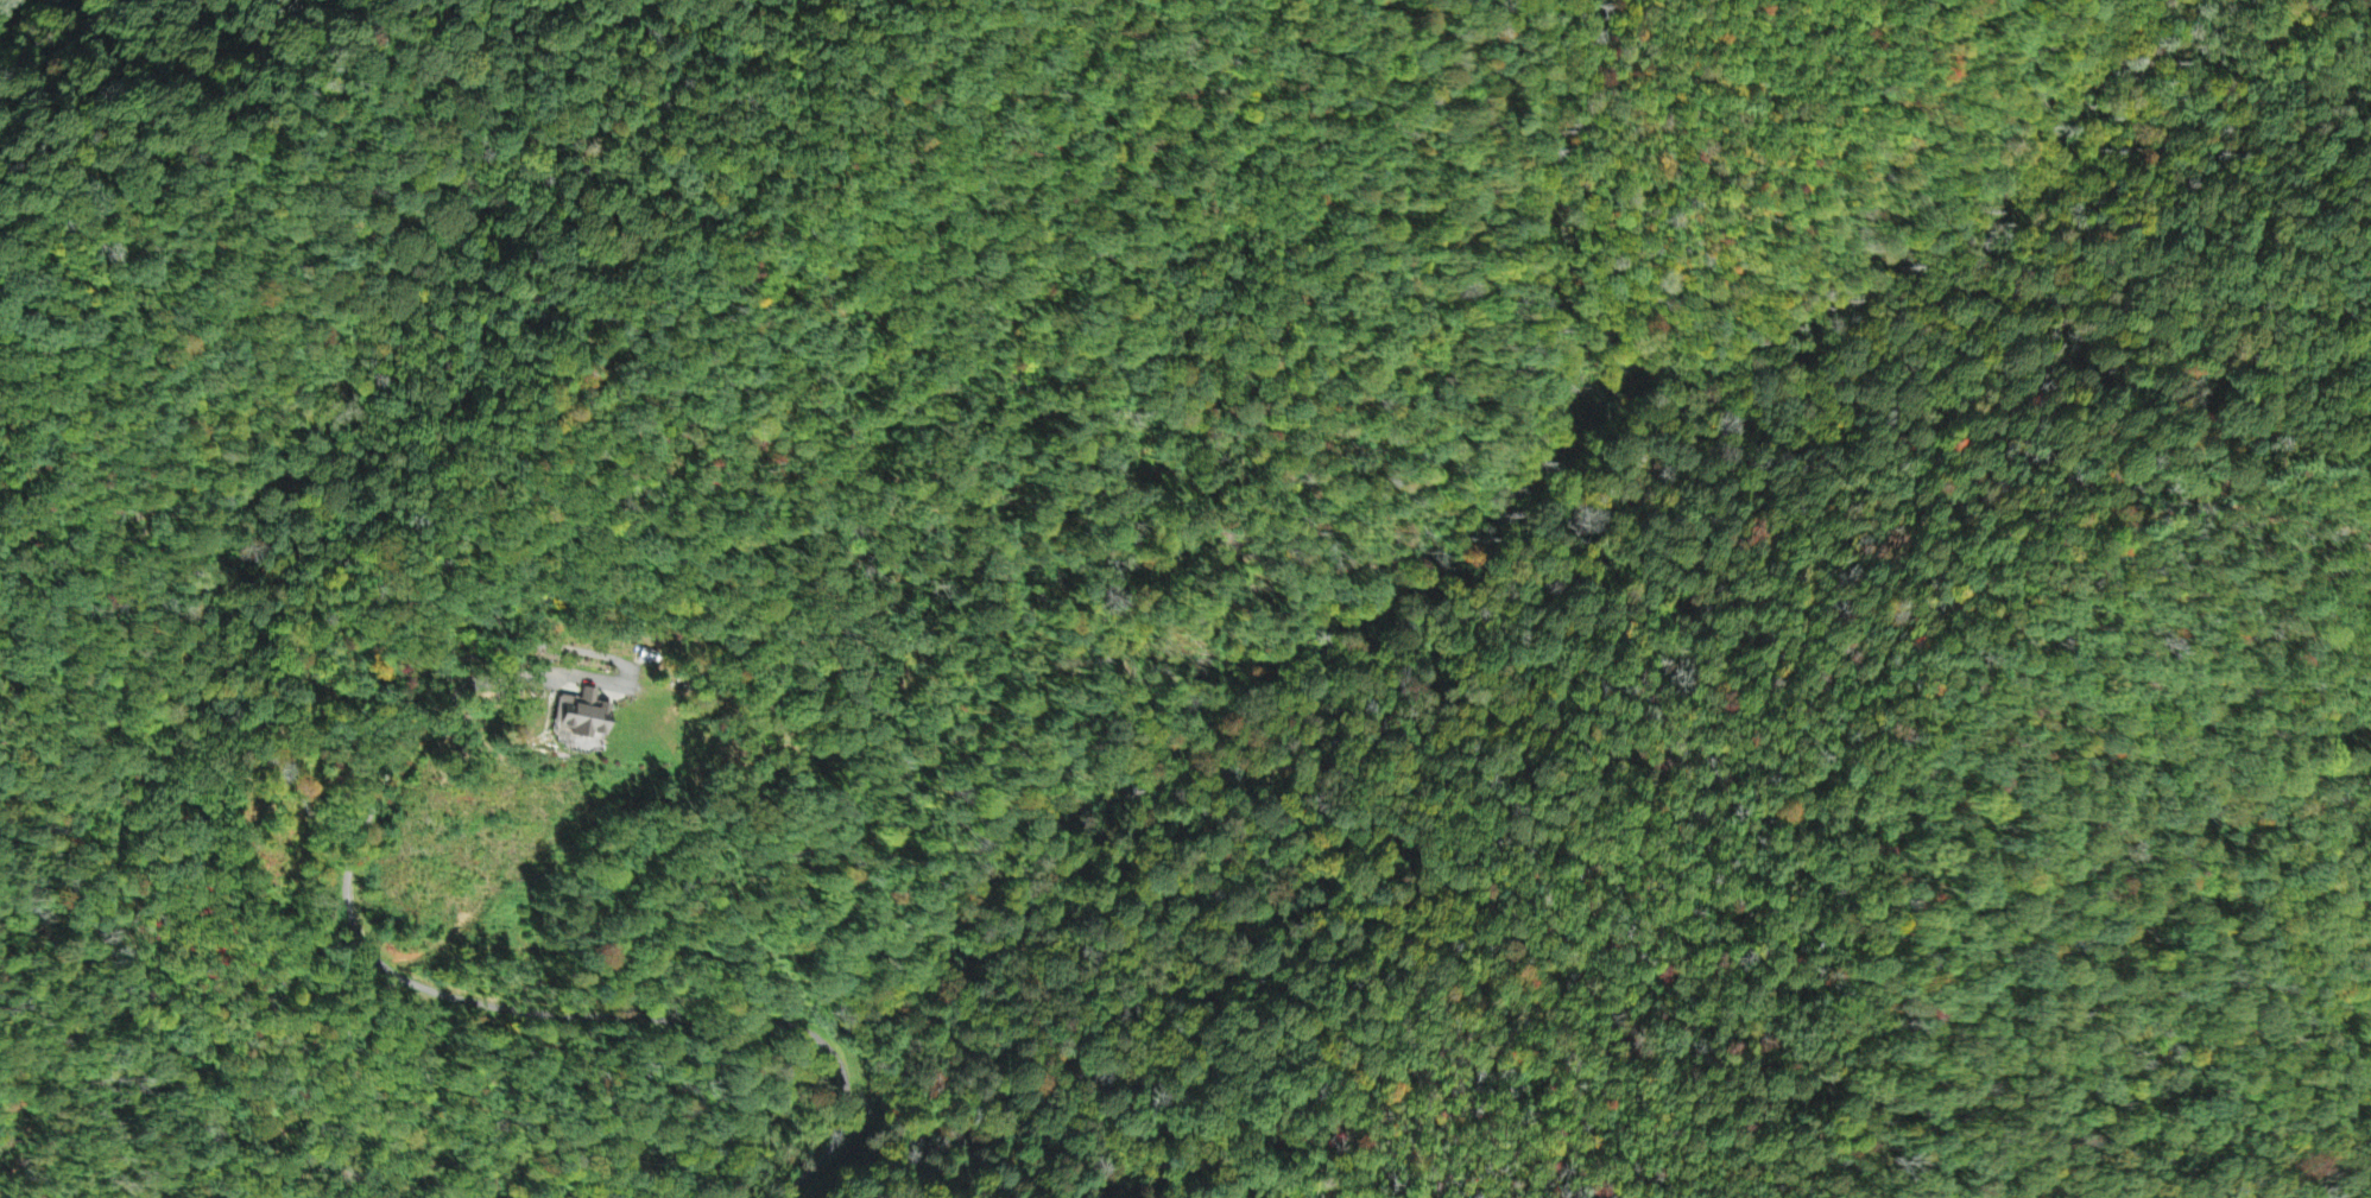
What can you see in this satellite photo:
building: (645, 646)
road: (631, 660)
building: (582, 710)
road: (530, 1009)

